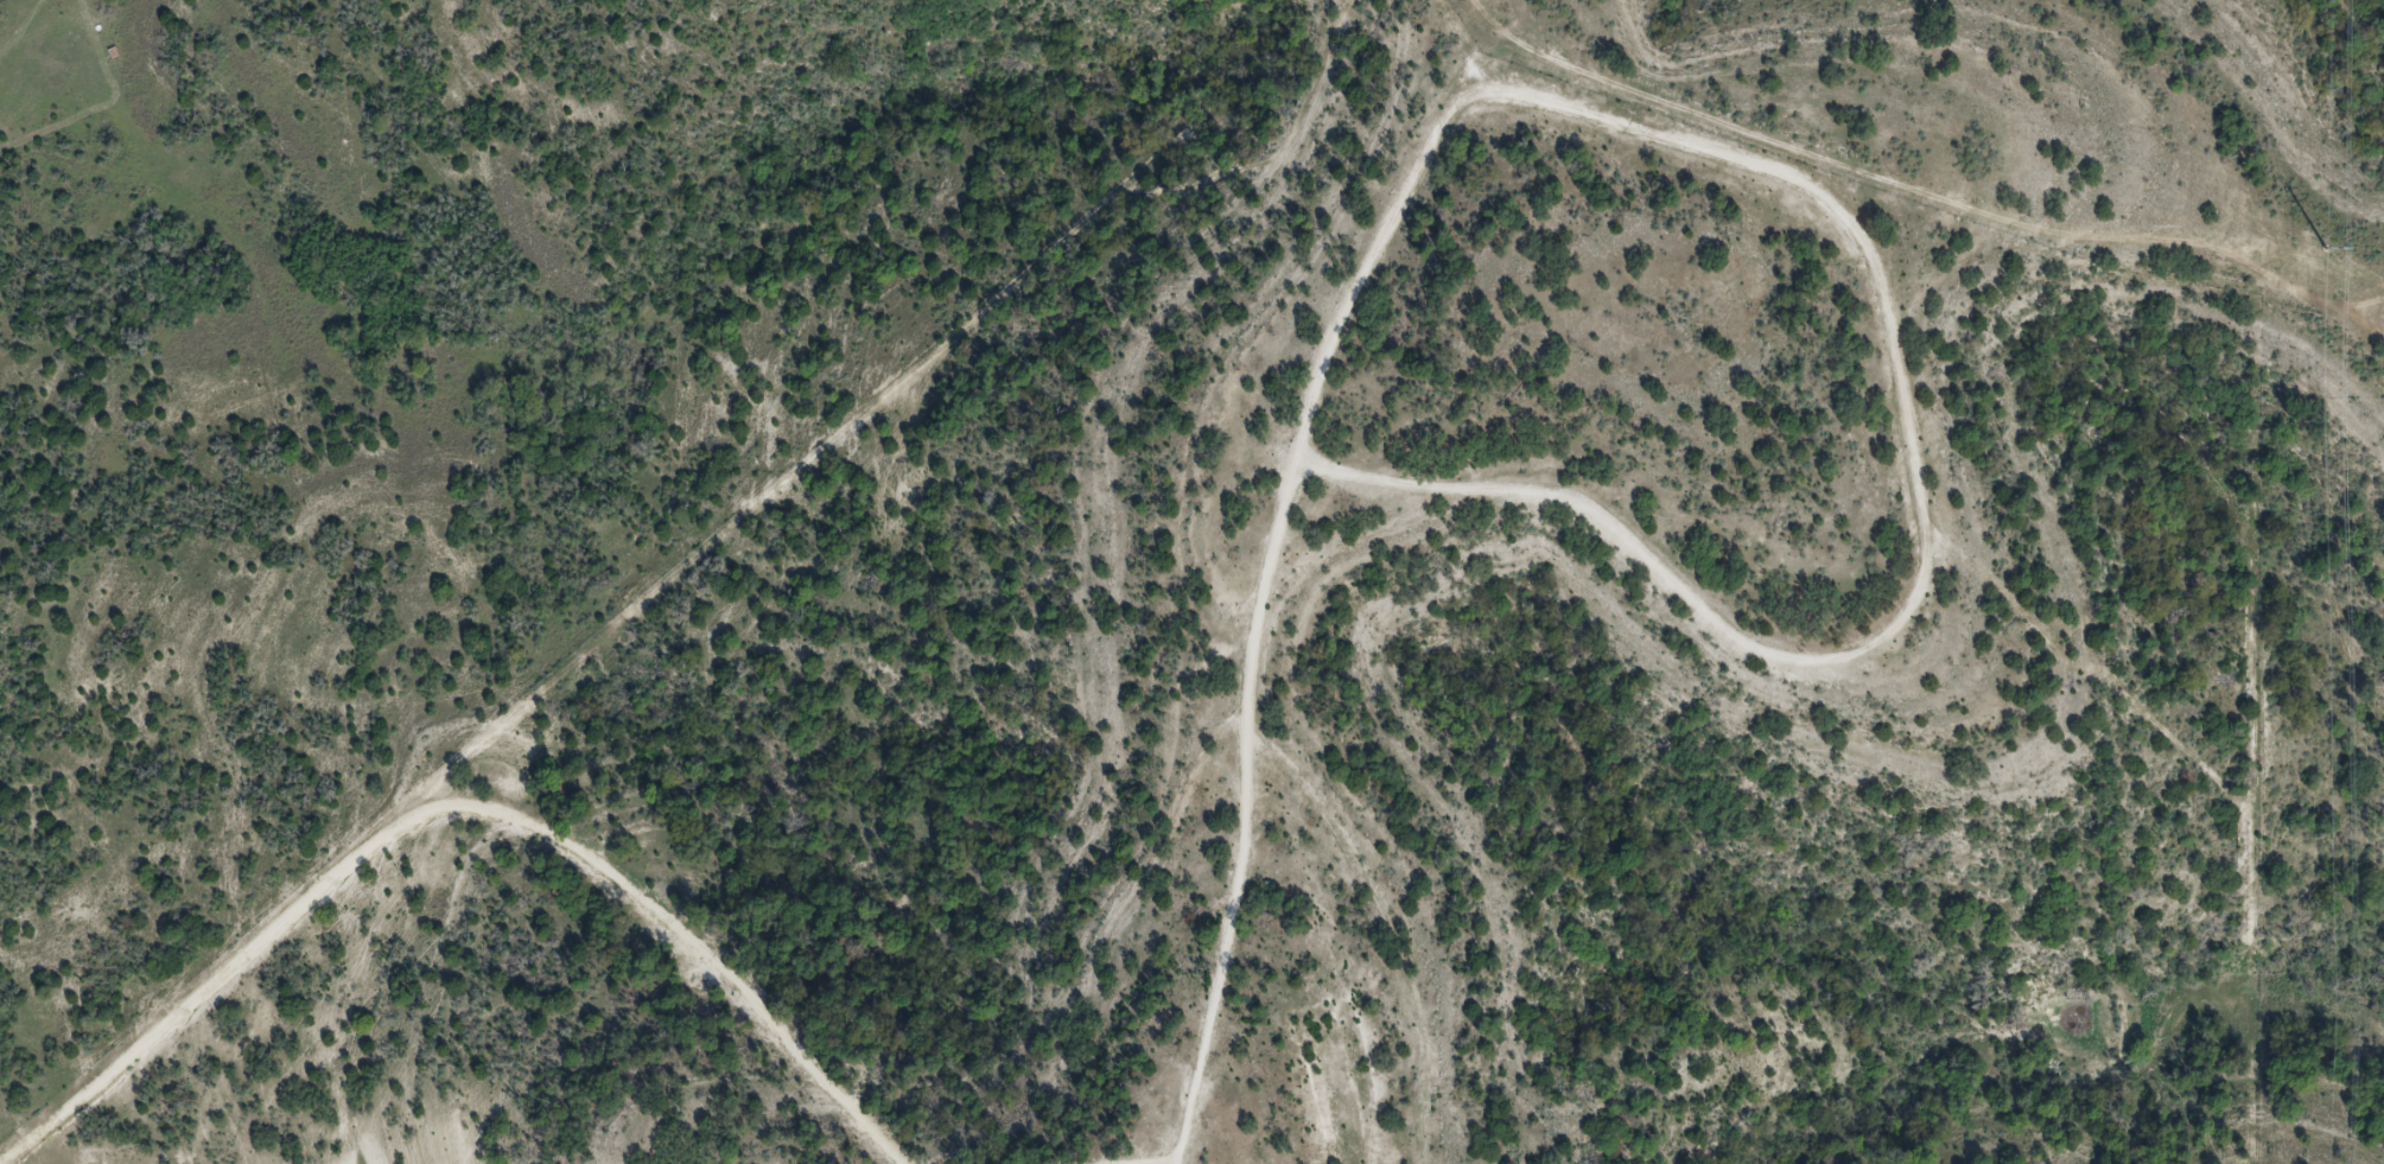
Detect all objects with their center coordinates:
power tower: (2328, 250)

